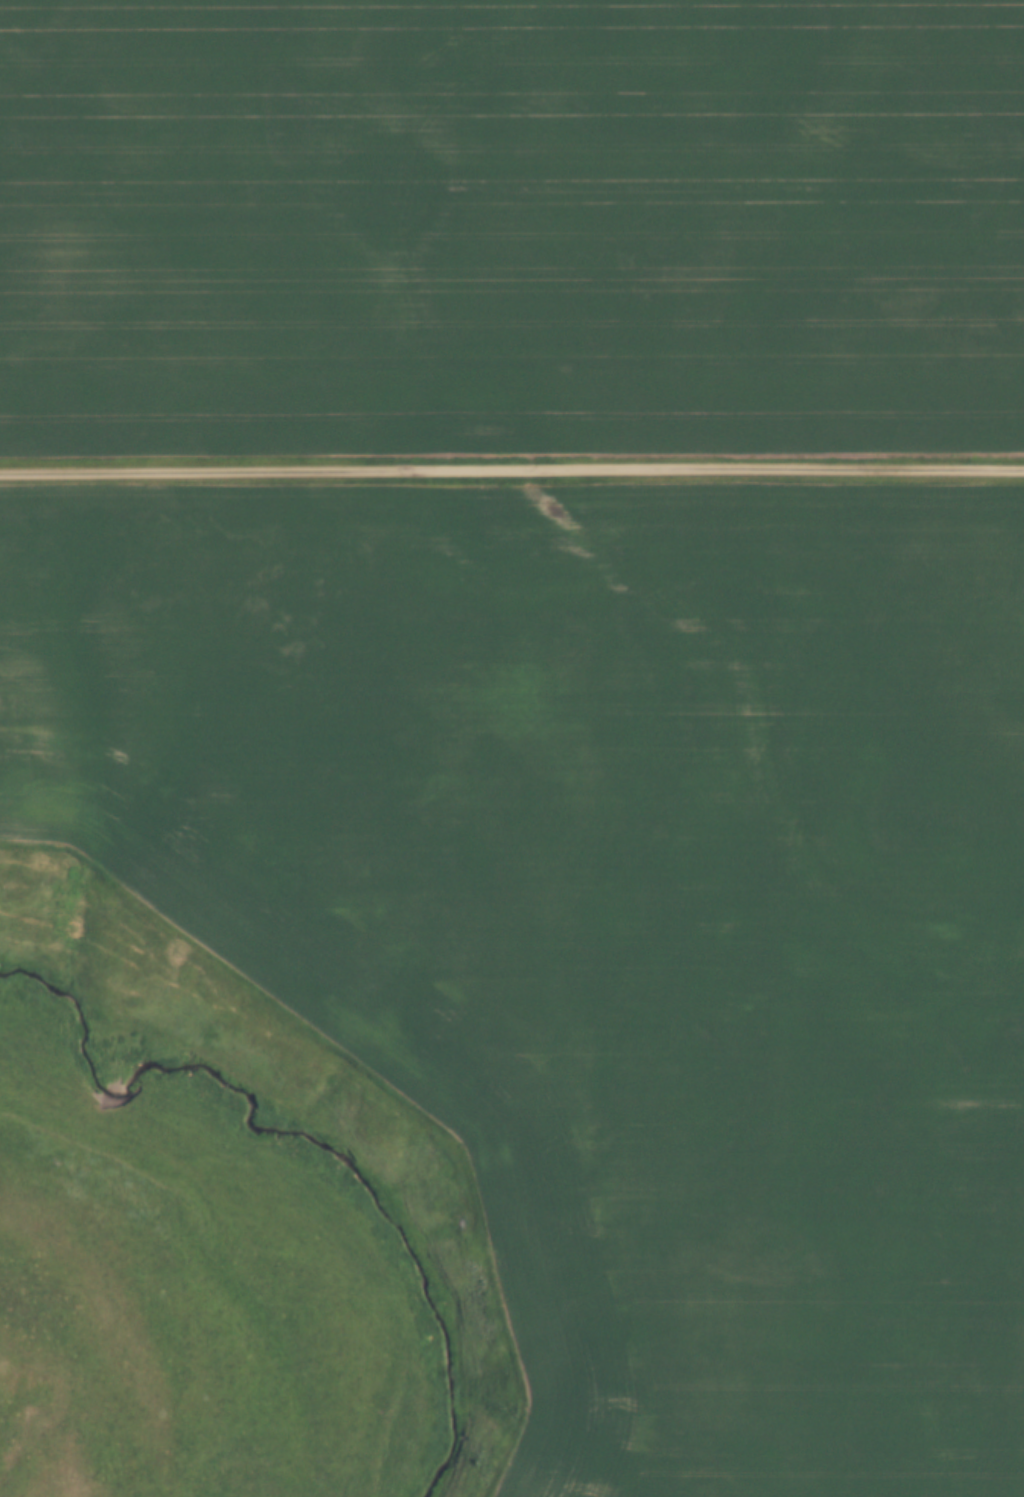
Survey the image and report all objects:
road: (512, 467)

